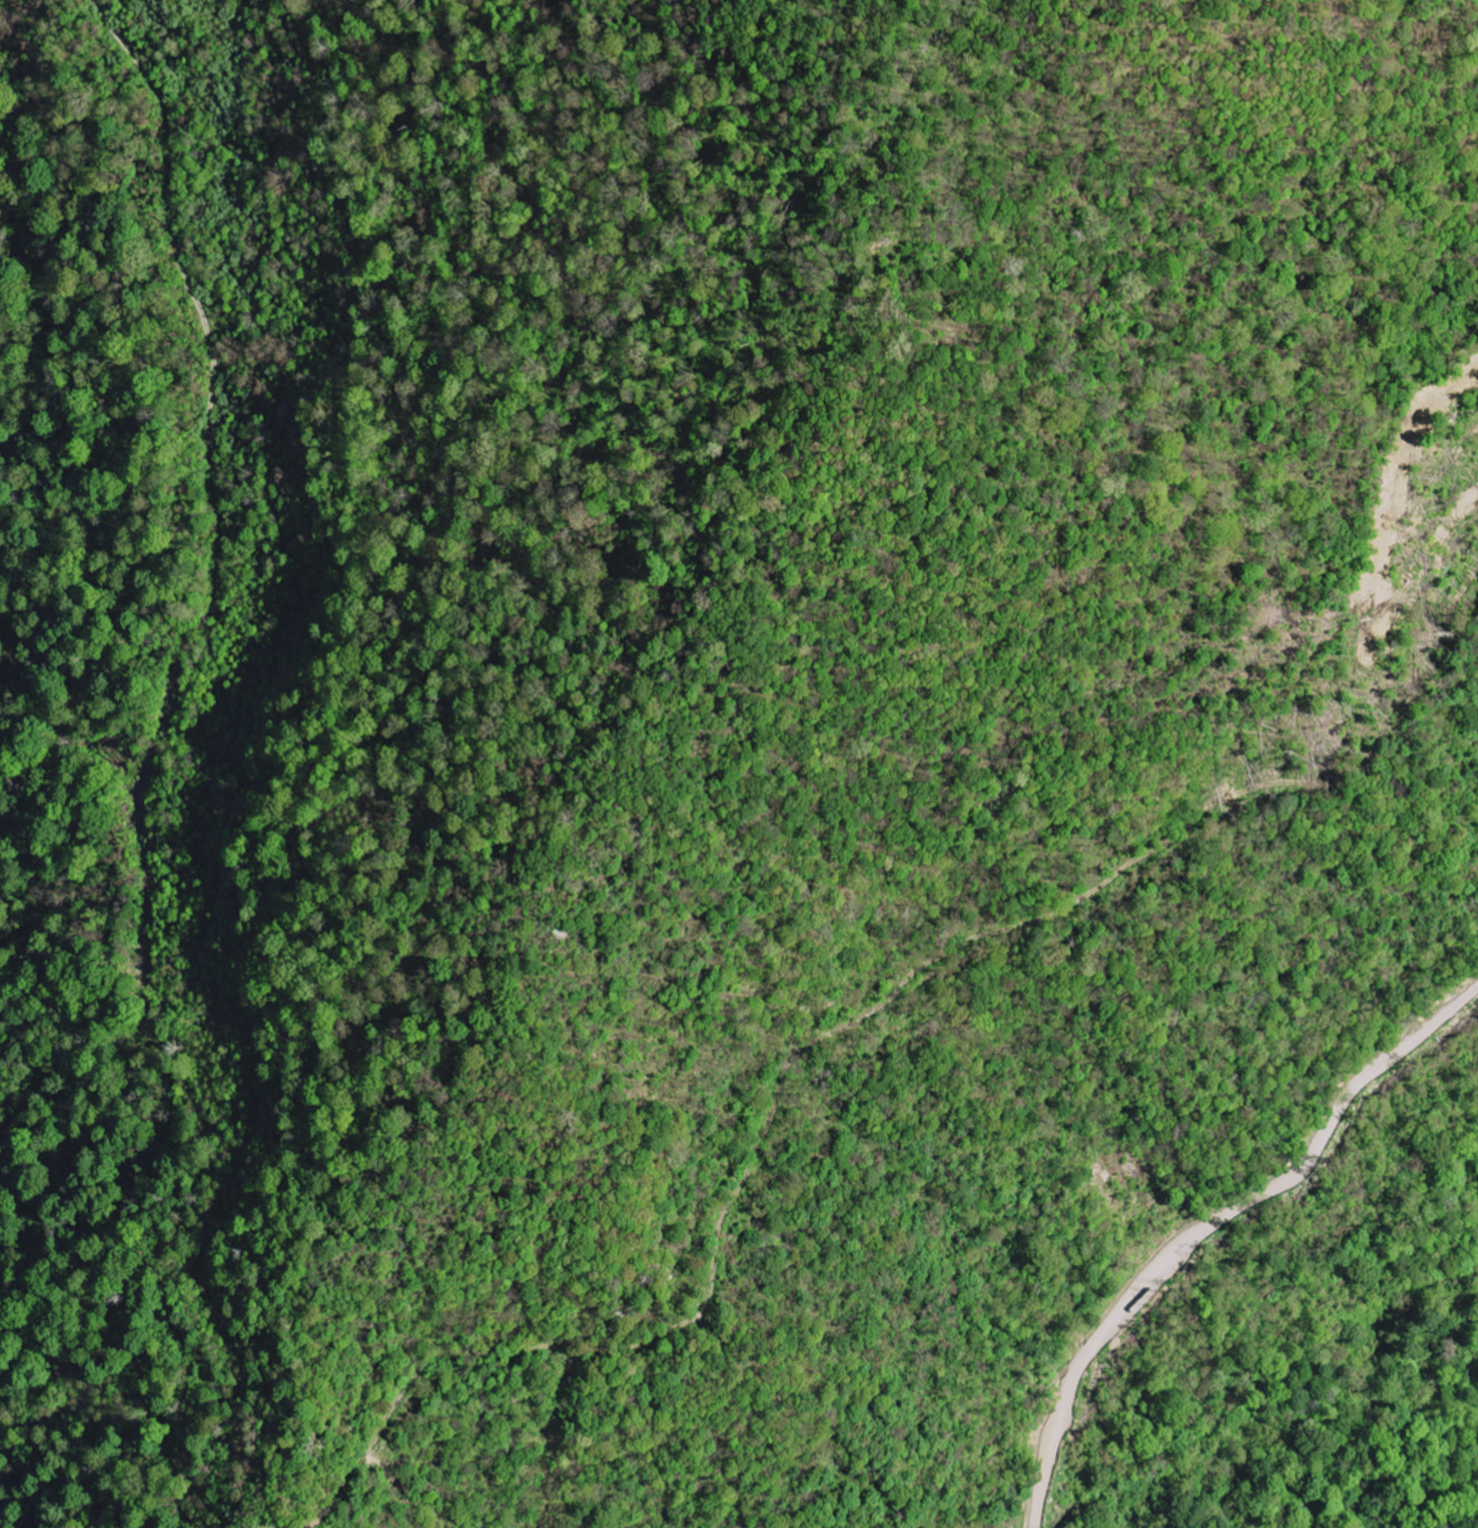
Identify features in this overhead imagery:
road: (1230, 1229)

